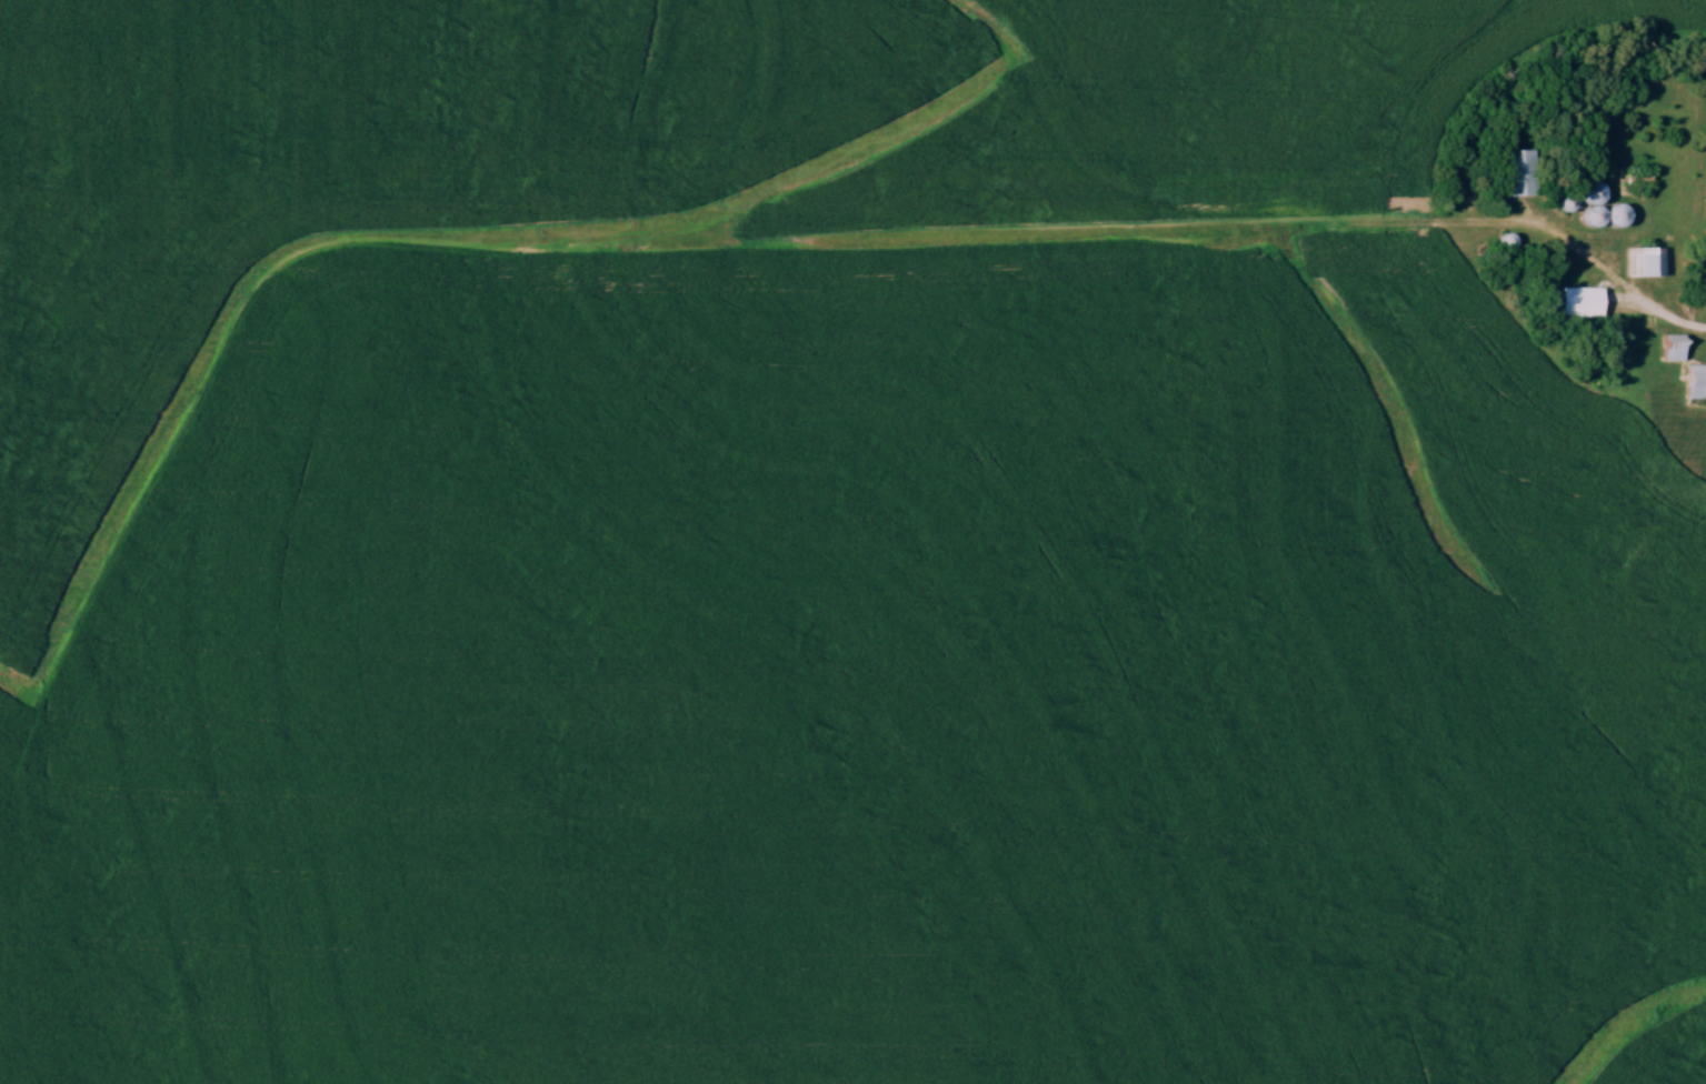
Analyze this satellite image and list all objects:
building: (1520, 172)
building: (1595, 200)
building: (1619, 214)
road: (1573, 247)
building: (1646, 261)
building: (1582, 301)
building: (1676, 347)
building: (1697, 383)

